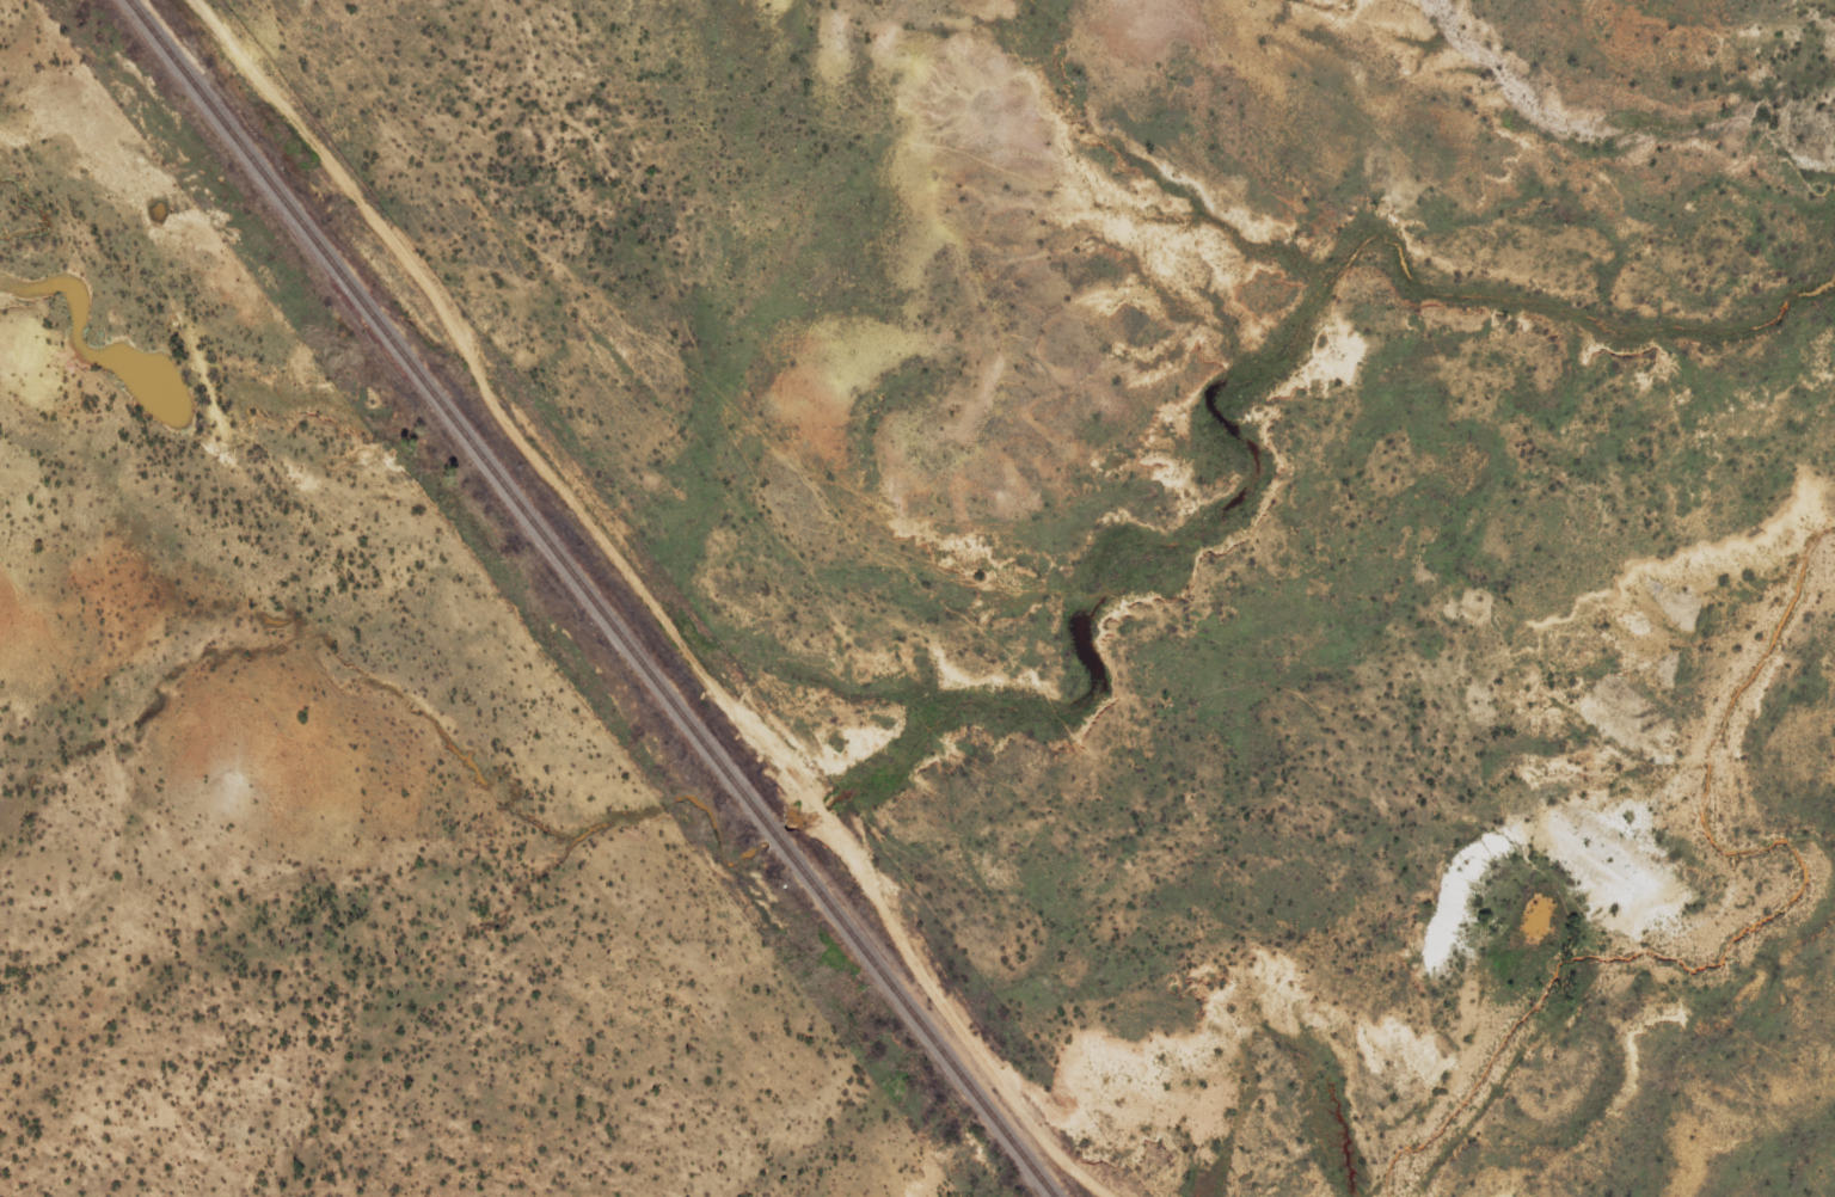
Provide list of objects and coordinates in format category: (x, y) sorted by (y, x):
railway: (589, 597)

